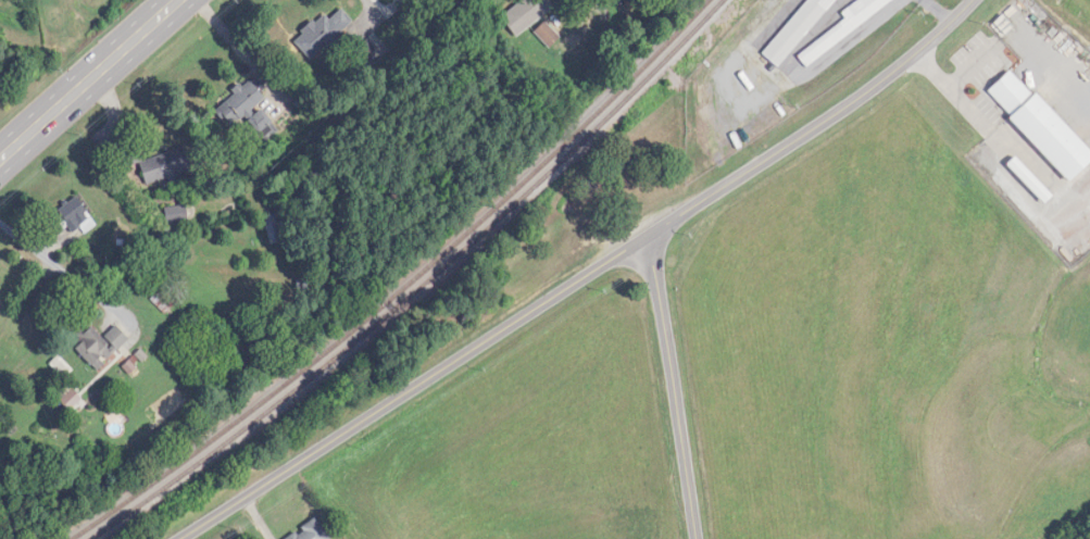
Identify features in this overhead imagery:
road: (594, 4)
road: (372, 5)
building: (527, 14)
building: (845, 27)
building: (798, 30)
building: (323, 34)
building: (548, 34)
road: (223, 35)
road: (966, 71)
road: (929, 72)
road: (88, 79)
building: (248, 108)
road: (976, 120)
building: (1036, 124)
building: (159, 164)
building: (177, 214)
building: (76, 217)
building: (275, 228)
road: (53, 263)
road: (582, 277)
railway: (403, 287)
railway: (414, 287)
building: (99, 344)
road: (674, 387)
building: (312, 531)

